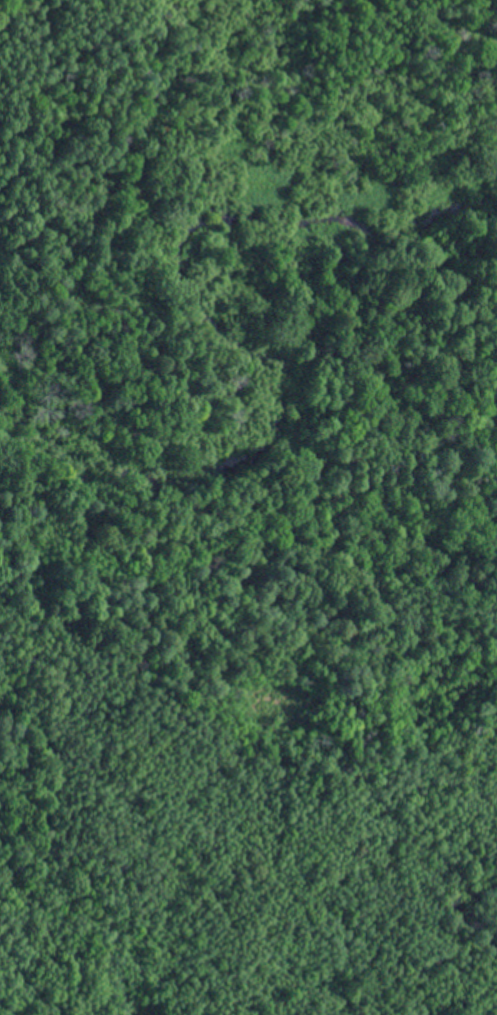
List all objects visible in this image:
river: (265, 359)

